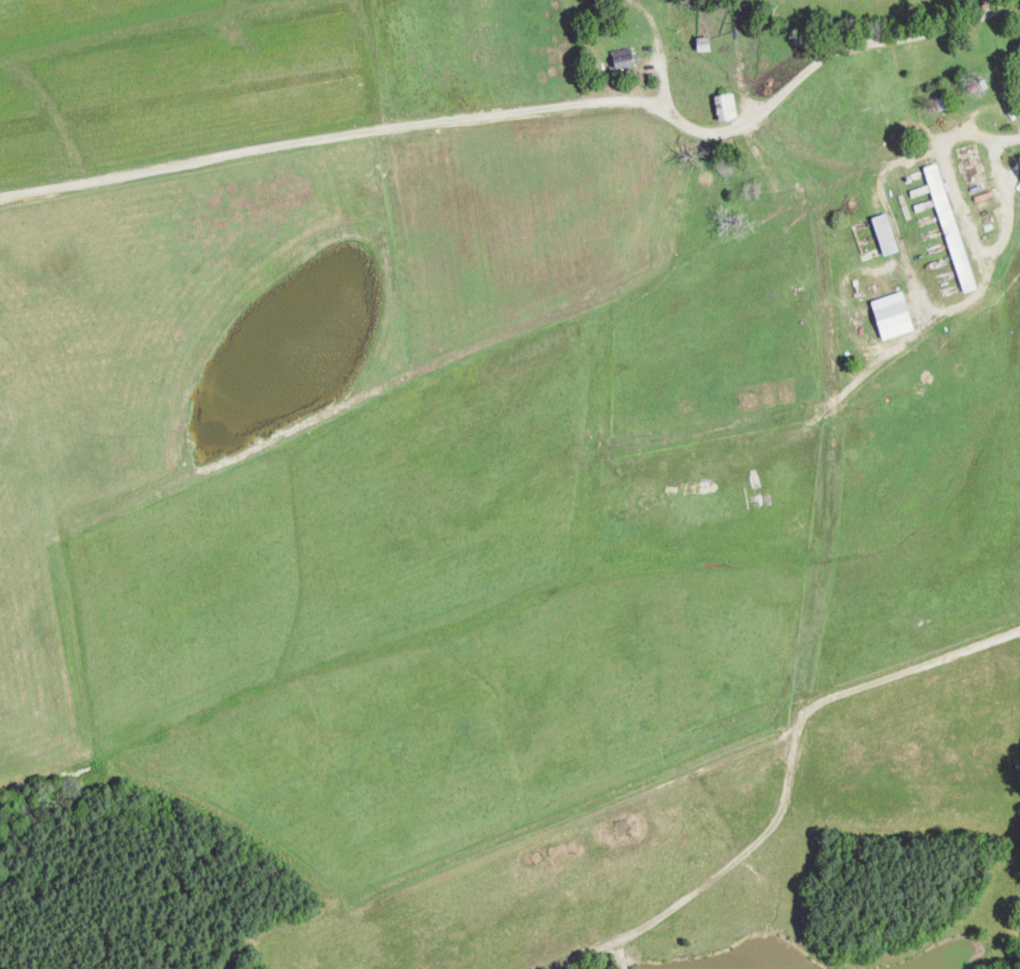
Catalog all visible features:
building: (627, 57)
building: (728, 105)
road: (522, 111)
road: (978, 132)
building: (953, 226)
building: (888, 232)
building: (901, 312)

